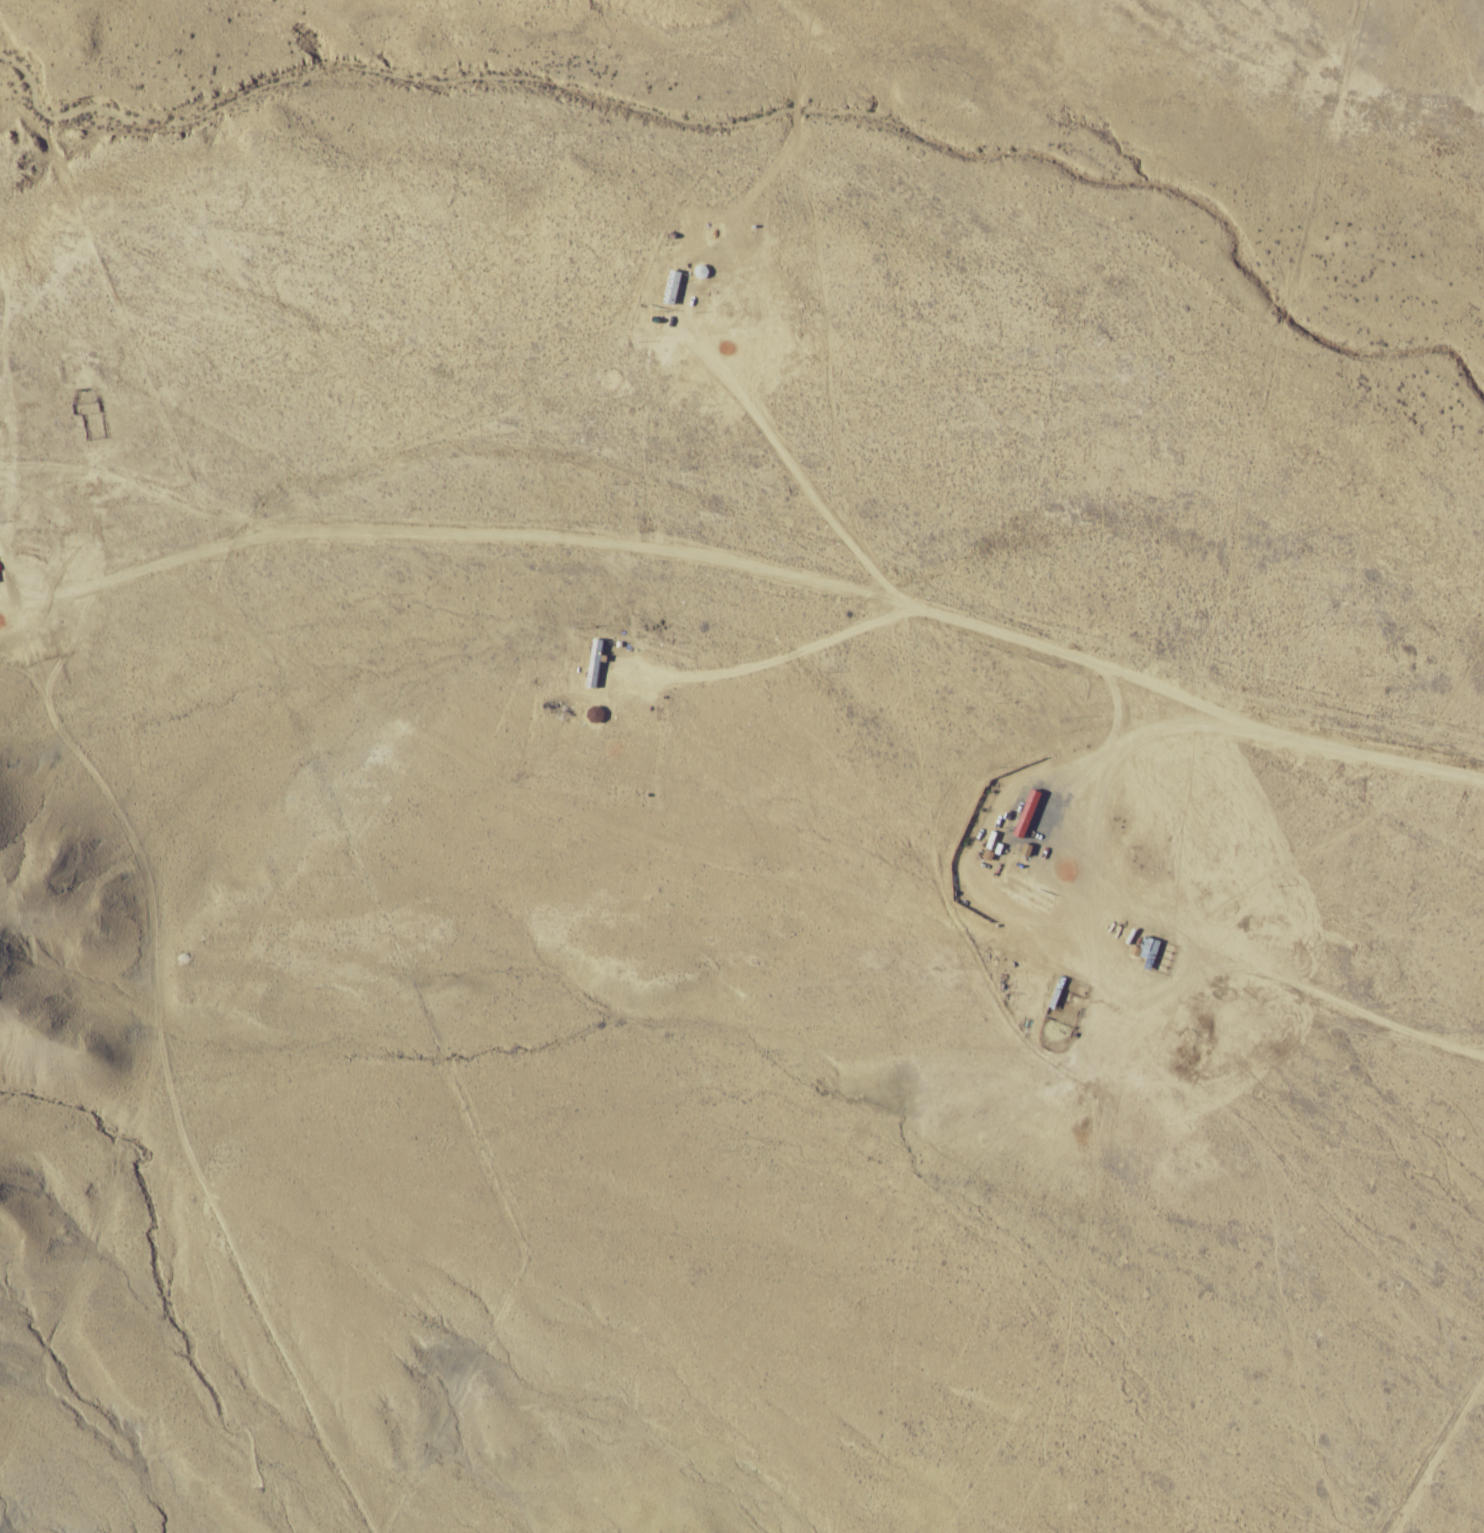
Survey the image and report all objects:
building: (668, 287)
building: (594, 663)
building: (595, 714)
building: (1024, 817)
building: (1145, 943)
road: (1458, 1483)

